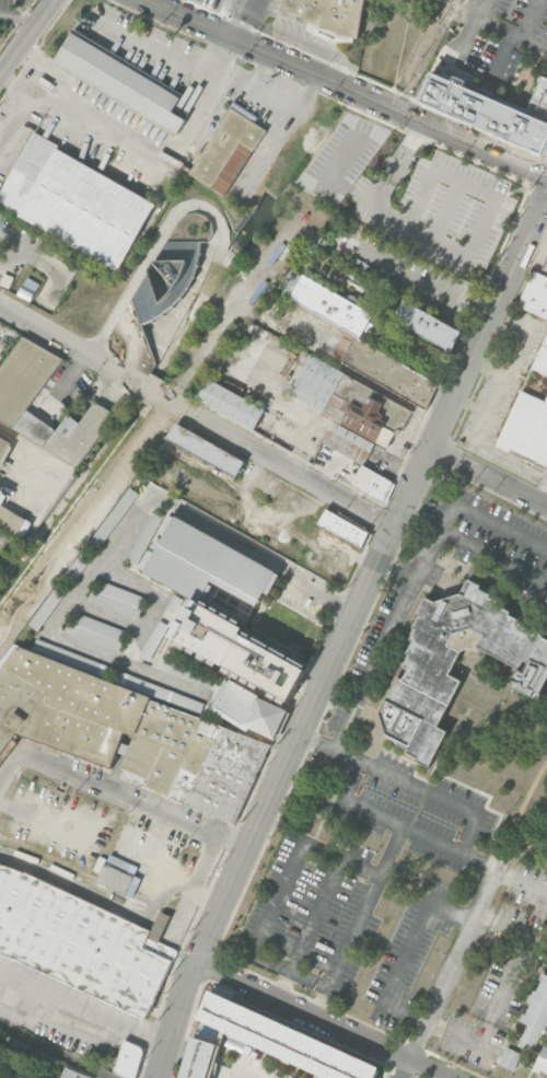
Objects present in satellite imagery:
road: (241, 5)
road: (255, 5)
building: (328, 9)
parking lot: (10, 14)
road: (18, 18)
road: (529, 18)
road: (492, 22)
road: (246, 25)
road: (299, 34)
road: (26, 37)
road: (472, 38)
road: (534, 40)
road: (499, 57)
road: (184, 58)
building: (121, 80)
road: (348, 89)
road: (20, 95)
road: (47, 97)
road: (270, 103)
building: (491, 108)
road: (124, 128)
building: (225, 144)
road: (520, 188)
road: (546, 196)
building: (75, 201)
parking lot: (432, 204)
road: (447, 210)
building: (186, 250)
road: (463, 252)
building: (545, 266)
building: (164, 278)
road: (415, 278)
building: (27, 288)
building: (536, 294)
building: (329, 305)
building: (428, 325)
building: (342, 345)
road: (513, 346)
building: (542, 358)
building: (391, 372)
road: (499, 373)
building: (24, 376)
building: (230, 402)
road: (197, 414)
building: (362, 417)
building: (526, 428)
building: (68, 430)
building: (3, 445)
road: (476, 448)
building: (206, 449)
road: (43, 456)
road: (488, 474)
building: (372, 482)
road: (544, 494)
building: (10, 521)
building: (338, 524)
building: (146, 537)
road: (492, 556)
building: (206, 563)
road: (93, 568)
road: (416, 578)
road: (322, 590)
road: (161, 596)
building: (117, 599)
road: (106, 614)
building: (95, 631)
road: (345, 631)
building: (236, 649)
building: (424, 671)
building: (185, 672)
building: (188, 704)
building: (252, 708)
building: (128, 732)
park: (501, 755)
road: (8, 767)
road: (407, 783)
road: (135, 797)
road: (520, 812)
road: (40, 819)
road: (427, 836)
road: (509, 842)
road: (152, 858)
road: (195, 876)
building: (115, 878)
road: (277, 896)
road: (359, 920)
road: (309, 928)
building: (78, 941)
road: (407, 951)
road: (451, 970)
road: (504, 988)
road: (83, 1002)
building: (536, 1016)
road: (323, 1019)
building: (282, 1040)
building: (234, 1044)
building: (102, 1051)
road: (55, 1052)
building: (199, 1058)
building: (510, 1058)
building: (128, 1059)
park: (26, 1060)
building: (542, 1062)
building: (73, 1073)

